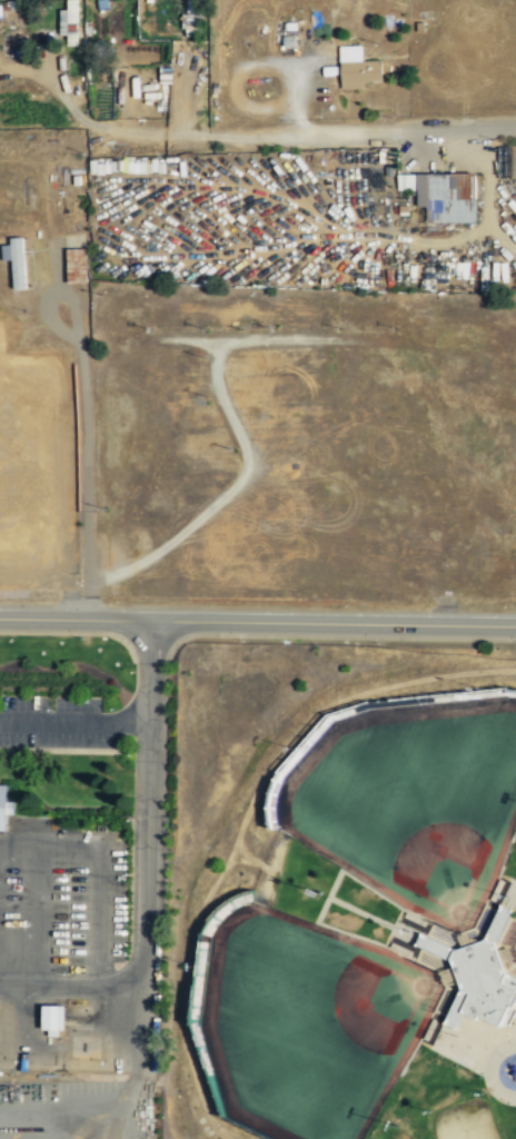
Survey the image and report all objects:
building: (192, 16)
building: (423, 16)
building: (68, 22)
building: (288, 41)
building: (348, 53)
building: (357, 73)
building: (163, 76)
road: (386, 131)
building: (439, 195)
building: (14, 261)
building: (77, 265)
building: (22, 531)
road: (257, 623)
road: (336, 636)
parking lot: (54, 722)
road: (73, 723)
park: (411, 800)
building: (4, 806)
road: (505, 861)
road: (100, 868)
road: (146, 870)
road: (510, 895)
parking lot: (61, 903)
road: (34, 918)
road: (357, 935)
park: (513, 945)
building: (477, 973)
building: (51, 1020)
park: (306, 1022)
road: (468, 1058)
road: (490, 1070)

